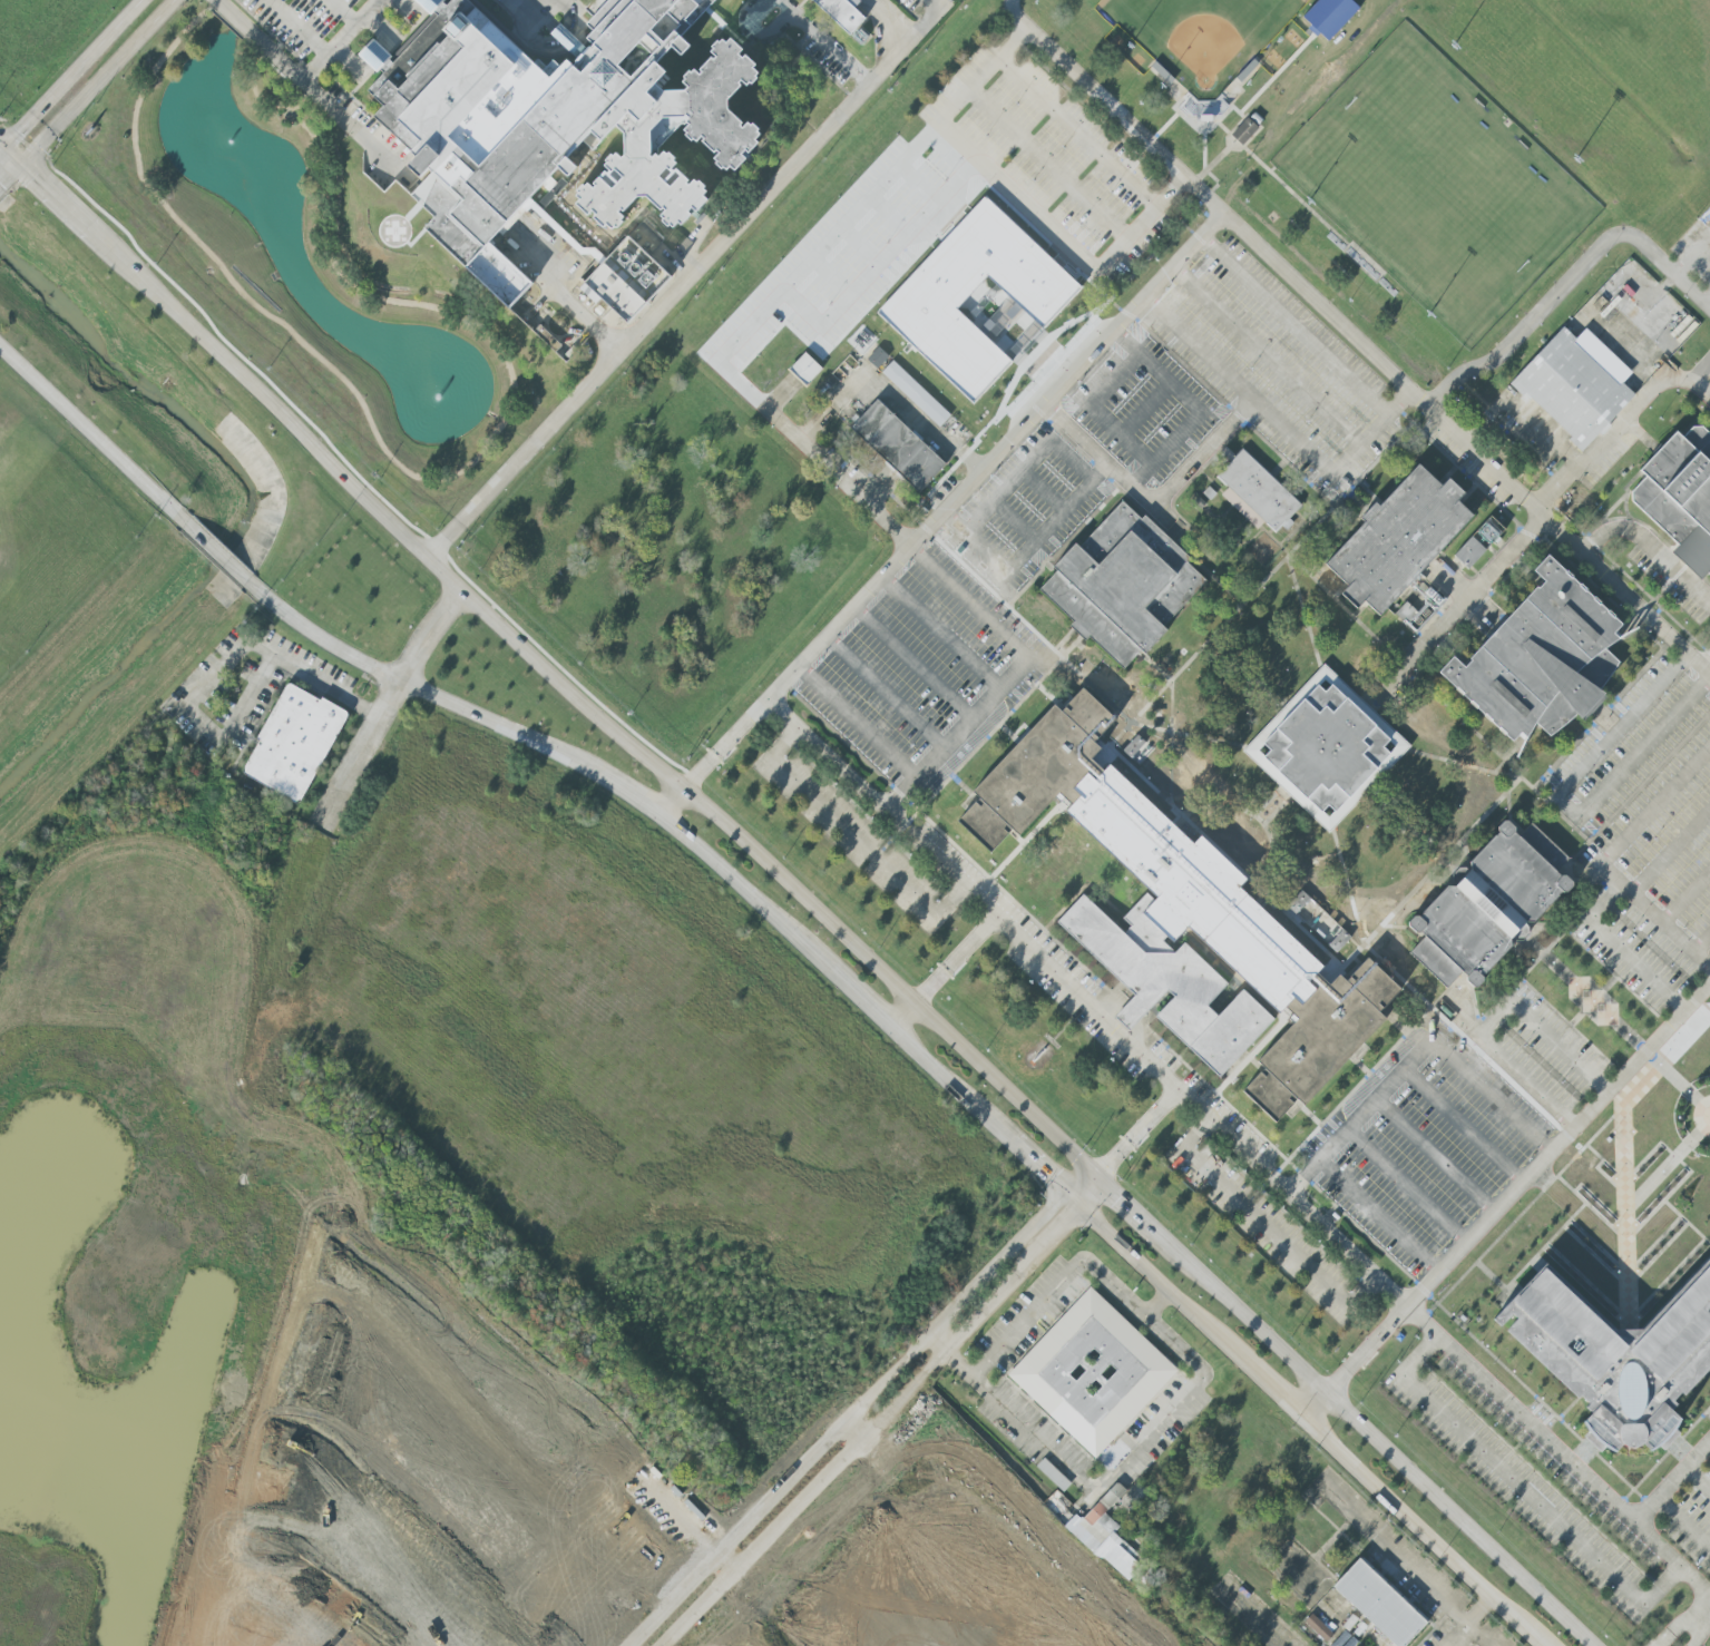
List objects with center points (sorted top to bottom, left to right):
road: (785, 3)
building: (805, 3)
road: (538, 4)
road: (548, 4)
road: (343, 12)
building: (1329, 17)
road: (887, 22)
road: (297, 27)
park: (1199, 36)
road: (758, 37)
road: (341, 39)
road: (832, 46)
road: (74, 74)
road: (305, 79)
road: (99, 82)
road: (1114, 109)
building: (584, 124)
road: (1078, 131)
building: (1244, 131)
road: (2, 145)
road: (2, 149)
road: (13, 156)
parking lot: (1049, 163)
road: (1049, 164)
road: (14, 175)
road: (920, 183)
park: (1437, 184)
road: (2, 187)
road: (872, 194)
road: (58, 198)
road: (889, 215)
helipad: (395, 232)
road: (1065, 241)
parking lot: (1694, 242)
road: (860, 246)
road: (1691, 253)
parking lot: (841, 259)
road: (879, 263)
road: (831, 276)
building: (627, 278)
road: (686, 283)
road: (1566, 288)
road: (566, 297)
building: (927, 297)
road: (1708, 303)
road: (801, 308)
road: (1296, 329)
road: (1631, 346)
building: (785, 356)
road: (1266, 359)
parking lot: (1273, 365)
building: (804, 369)
road: (1699, 370)
road: (1689, 381)
road: (1239, 386)
building: (1574, 390)
road: (888, 392)
building: (916, 393)
parking lot: (1708, 404)
road: (1192, 406)
road: (1096, 409)
parking lot: (1144, 409)
road: (1484, 421)
road: (1540, 433)
road: (1372, 434)
road: (97, 441)
road: (1599, 441)
building: (897, 445)
road: (1466, 445)
road: (814, 452)
road: (1204, 453)
road: (1111, 468)
road: (429, 480)
building: (1260, 491)
building: (1681, 496)
road: (952, 501)
parking lot: (1026, 510)
building: (1400, 540)
building: (1478, 542)
road: (1647, 547)
road: (1027, 550)
road: (228, 564)
road: (1292, 578)
building: (1123, 584)
road: (1457, 586)
building: (1418, 604)
road: (1453, 613)
road: (941, 631)
road: (1651, 637)
building: (1543, 659)
road: (912, 663)
road: (1707, 665)
parking lot: (924, 672)
road: (1400, 672)
road: (1244, 674)
road: (217, 675)
road: (1010, 675)
road: (885, 692)
road: (424, 694)
road: (381, 704)
road: (590, 706)
road: (1364, 707)
road: (857, 722)
road: (1185, 737)
building: (293, 744)
building: (1135, 749)
building: (1329, 749)
road: (627, 795)
road: (670, 803)
road: (1654, 804)
road: (1273, 806)
road: (1565, 809)
road: (1166, 812)
road: (1404, 823)
road: (852, 835)
parking lot: (854, 836)
parking lot: (1624, 888)
road: (1347, 889)
road: (740, 892)
road: (974, 894)
building: (1491, 907)
road: (1654, 914)
building: (1183, 920)
road: (1597, 922)
road: (956, 960)
road: (858, 998)
road: (905, 1017)
road: (1414, 1057)
road: (1517, 1070)
road: (950, 1084)
road: (1464, 1124)
road: (1139, 1131)
road: (1557, 1142)
parking lot: (1424, 1146)
road: (1433, 1156)
road: (1039, 1173)
road: (1406, 1185)
road: (1084, 1192)
road: (1291, 1196)
road: (1128, 1204)
road: (1378, 1214)
road: (1262, 1225)
parking lot: (1266, 1226)
road: (1160, 1282)
road: (997, 1283)
road: (1056, 1289)
road: (1366, 1345)
building: (1620, 1356)
building: (1092, 1372)
road: (1274, 1389)
road: (1316, 1402)
road: (1379, 1437)
road: (1557, 1448)
road: (1117, 1469)
road: (1673, 1486)
road: (1523, 1490)
road: (788, 1502)
road: (1418, 1527)
building: (1105, 1535)
road: (1464, 1545)
road: (1397, 1556)
building: (1379, 1604)
road: (1707, 1608)
road: (1481, 1611)
road: (1263, 1620)
road: (1678, 1624)
building: (1318, 1628)
road: (1702, 1628)
road: (1458, 1636)
road: (1478, 1636)
road: (1540, 1642)

